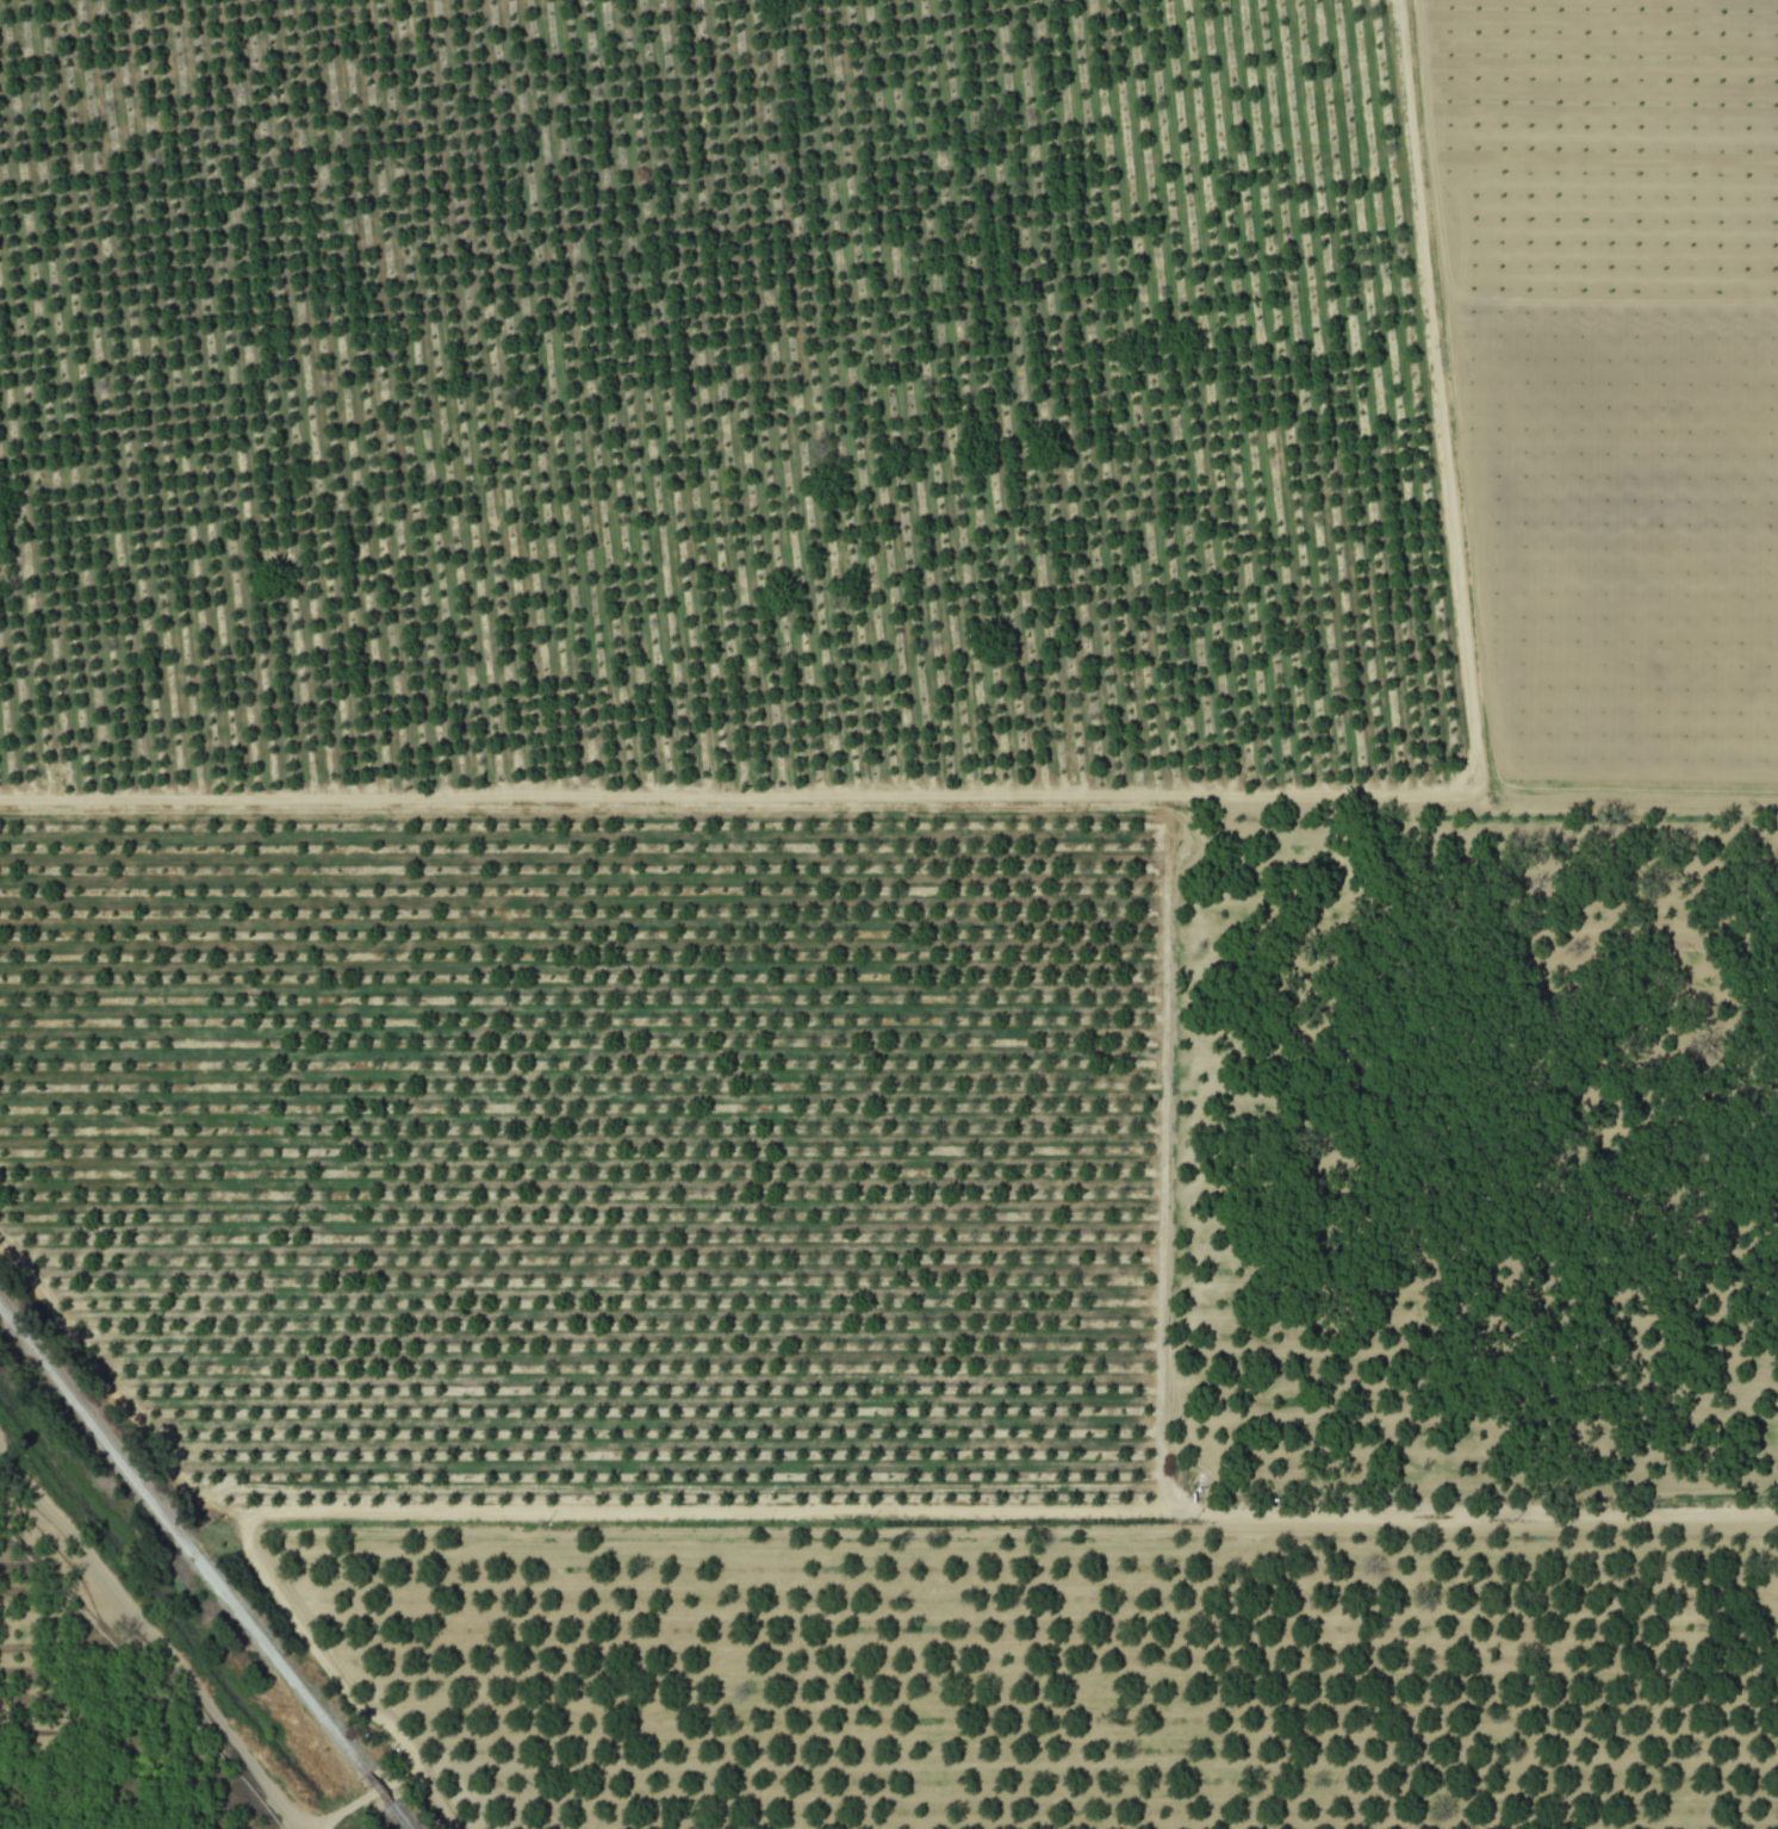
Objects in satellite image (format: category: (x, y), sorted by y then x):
road: (1425, 392)
crop: (889, 914)
railway: (205, 1563)

